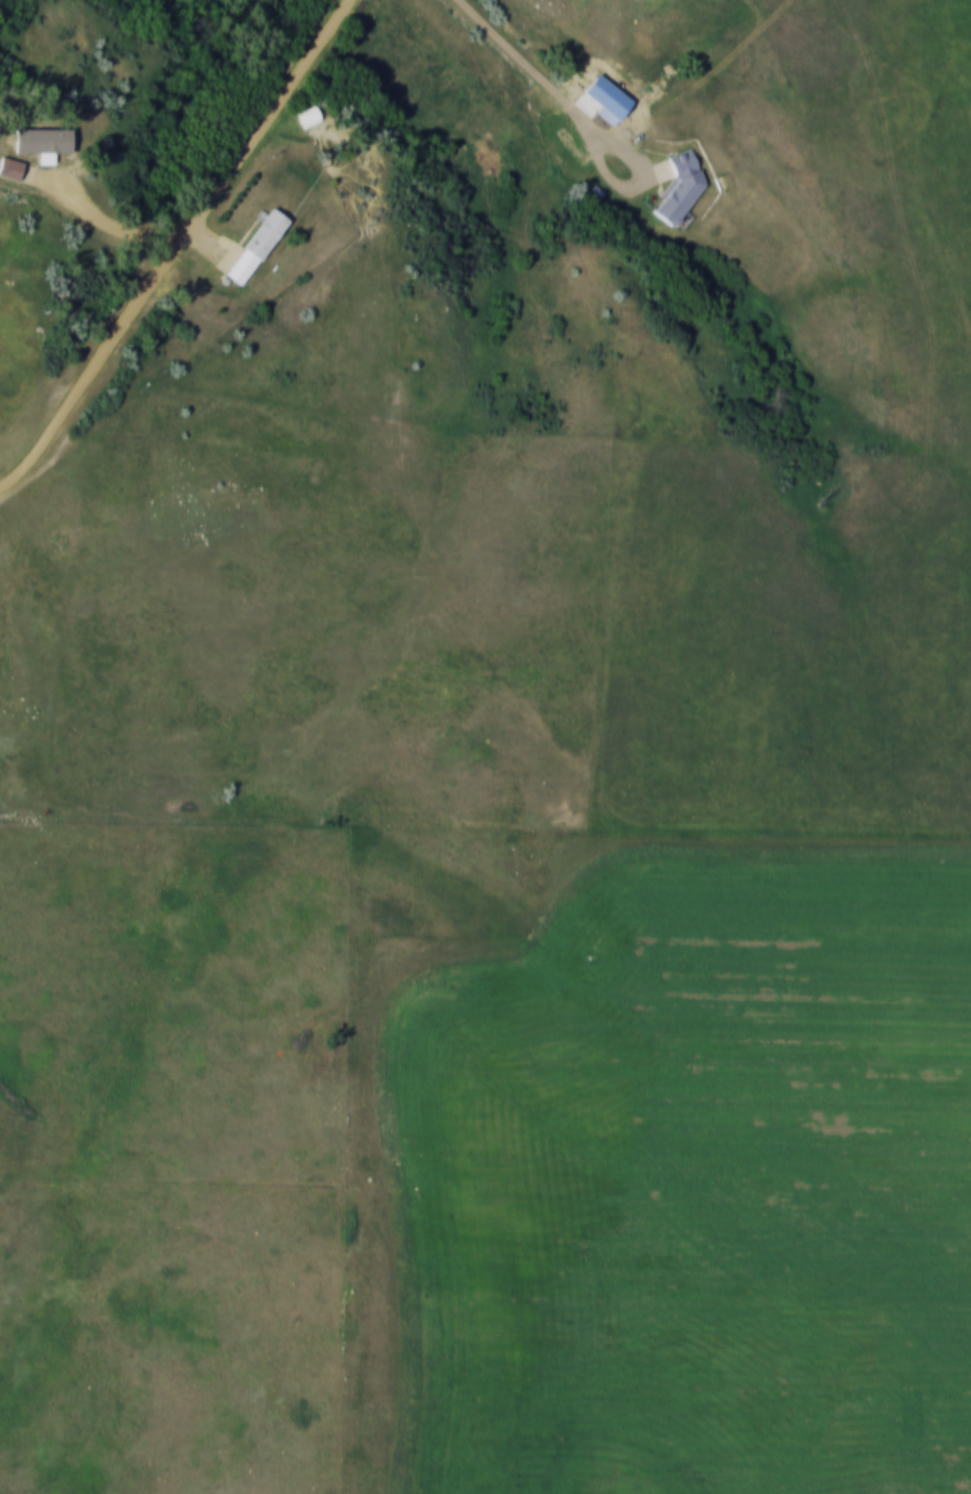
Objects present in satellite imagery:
road: (606, 116)
building: (310, 117)
building: (36, 145)
building: (11, 168)
road: (218, 184)
building: (681, 186)
building: (258, 248)

